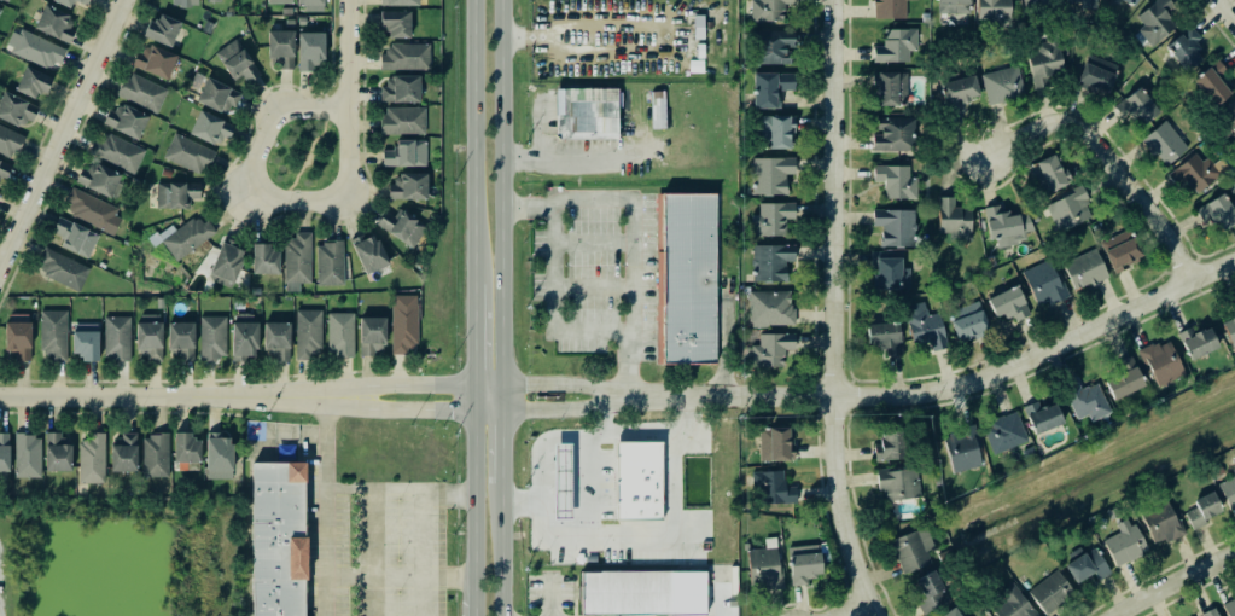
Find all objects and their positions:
building: (7, 0)
building: (211, 0)
building: (279, 1)
building: (1128, 1)
building: (71, 2)
building: (185, 2)
building: (400, 2)
building: (1031, 2)
building: (310, 4)
building: (1084, 4)
building: (0, 6)
building: (950, 6)
building: (887, 8)
building: (765, 10)
building: (991, 11)
road: (1225, 12)
building: (922, 17)
building: (1153, 21)
building: (54, 23)
building: (394, 23)
building: (162, 29)
building: (892, 46)
building: (768, 47)
building: (34, 48)
building: (280, 48)
road: (657, 48)
building: (1181, 48)
building: (309, 50)
road: (346, 54)
building: (406, 57)
building: (155, 60)
building: (235, 62)
building: (1042, 62)
building: (1094, 76)
building: (33, 82)
building: (1208, 83)
building: (998, 85)
building: (768, 88)
building: (400, 89)
building: (887, 89)
building: (955, 91)
building: (141, 92)
building: (219, 95)
building: (1134, 106)
building: (16, 109)
building: (658, 110)
building: (586, 114)
building: (126, 121)
building: (403, 121)
building: (1227, 123)
road: (322, 127)
building: (210, 128)
road: (60, 130)
building: (773, 132)
building: (891, 132)
building: (10, 141)
road: (468, 141)
building: (1161, 144)
building: (117, 152)
building: (188, 153)
building: (406, 153)
road: (301, 156)
road: (305, 157)
road: (557, 158)
road: (1108, 158)
road: (309, 159)
building: (2, 169)
building: (1192, 173)
building: (1048, 174)
road: (295, 175)
building: (768, 175)
building: (100, 179)
building: (892, 182)
building: (408, 186)
road: (500, 192)
building: (175, 194)
road: (252, 201)
building: (1066, 209)
building: (93, 210)
building: (1214, 213)
building: (768, 219)
building: (950, 220)
building: (401, 226)
building: (1001, 226)
building: (892, 227)
road: (627, 232)
building: (75, 237)
building: (183, 237)
road: (587, 242)
building: (1118, 251)
building: (369, 254)
building: (297, 258)
building: (264, 260)
building: (768, 262)
building: (330, 263)
building: (226, 265)
building: (62, 269)
building: (1083, 269)
building: (886, 273)
parking lot: (596, 278)
building: (682, 279)
building: (1042, 283)
road: (588, 286)
road: (549, 302)
building: (1004, 303)
building: (767, 309)
road: (832, 310)
building: (403, 322)
building: (963, 322)
building: (924, 330)
building: (1230, 330)
building: (308, 333)
road: (470, 333)
building: (340, 335)
building: (372, 335)
building: (53, 336)
building: (148, 336)
building: (244, 336)
building: (879, 336)
building: (18, 337)
building: (212, 337)
building: (117, 338)
building: (181, 341)
building: (276, 341)
building: (86, 342)
building: (1193, 342)
building: (769, 349)
building: (1158, 362)
building: (1120, 379)
road: (485, 384)
road: (944, 390)
road: (171, 396)
road: (471, 397)
road: (501, 397)
building: (1083, 401)
road: (564, 409)
road: (406, 411)
road: (485, 411)
building: (1038, 417)
road: (606, 419)
building: (1002, 432)
road: (583, 436)
building: (774, 443)
building: (891, 444)
building: (186, 448)
building: (961, 448)
road: (501, 449)
building: (57, 453)
building: (123, 453)
building: (4, 455)
building: (28, 455)
building: (155, 455)
building: (219, 457)
building: (92, 460)
building: (1234, 470)
building: (639, 480)
road: (670, 484)
building: (898, 484)
building: (773, 487)
road: (587, 489)
road: (396, 492)
building: (1228, 492)
road: (322, 506)
building: (1202, 510)
road: (471, 513)
building: (1160, 523)
road: (553, 539)
building: (276, 541)
building: (1124, 542)
building: (913, 550)
road: (500, 552)
road: (423, 553)
building: (803, 564)
building: (764, 565)
building: (1085, 565)
road: (396, 577)
road: (1176, 582)
building: (930, 589)
building: (642, 592)
building: (1050, 592)
building: (1013, 605)
building: (1229, 608)
road: (850, 609)
building: (953, 612)
building: (1210, 612)

